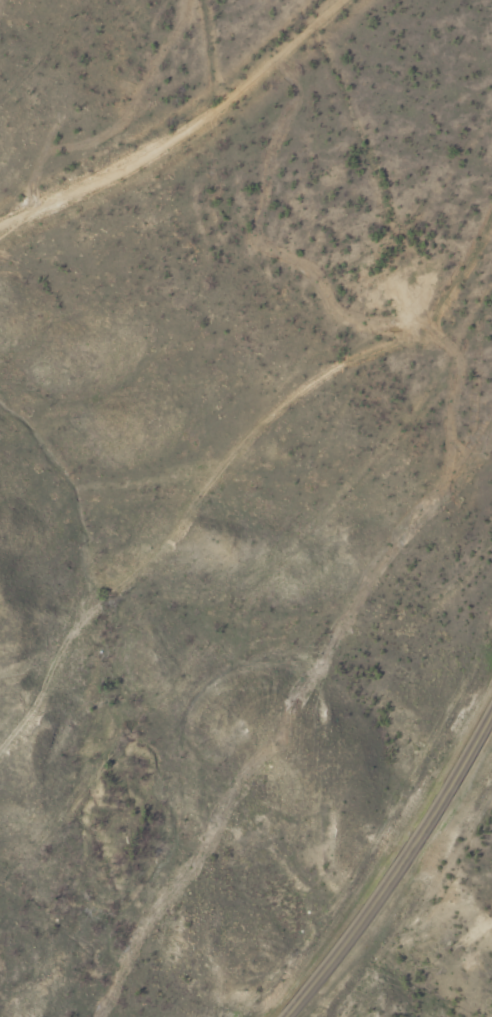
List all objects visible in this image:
road: (311, 24)
road: (156, 146)
road: (274, 391)
road: (401, 877)

